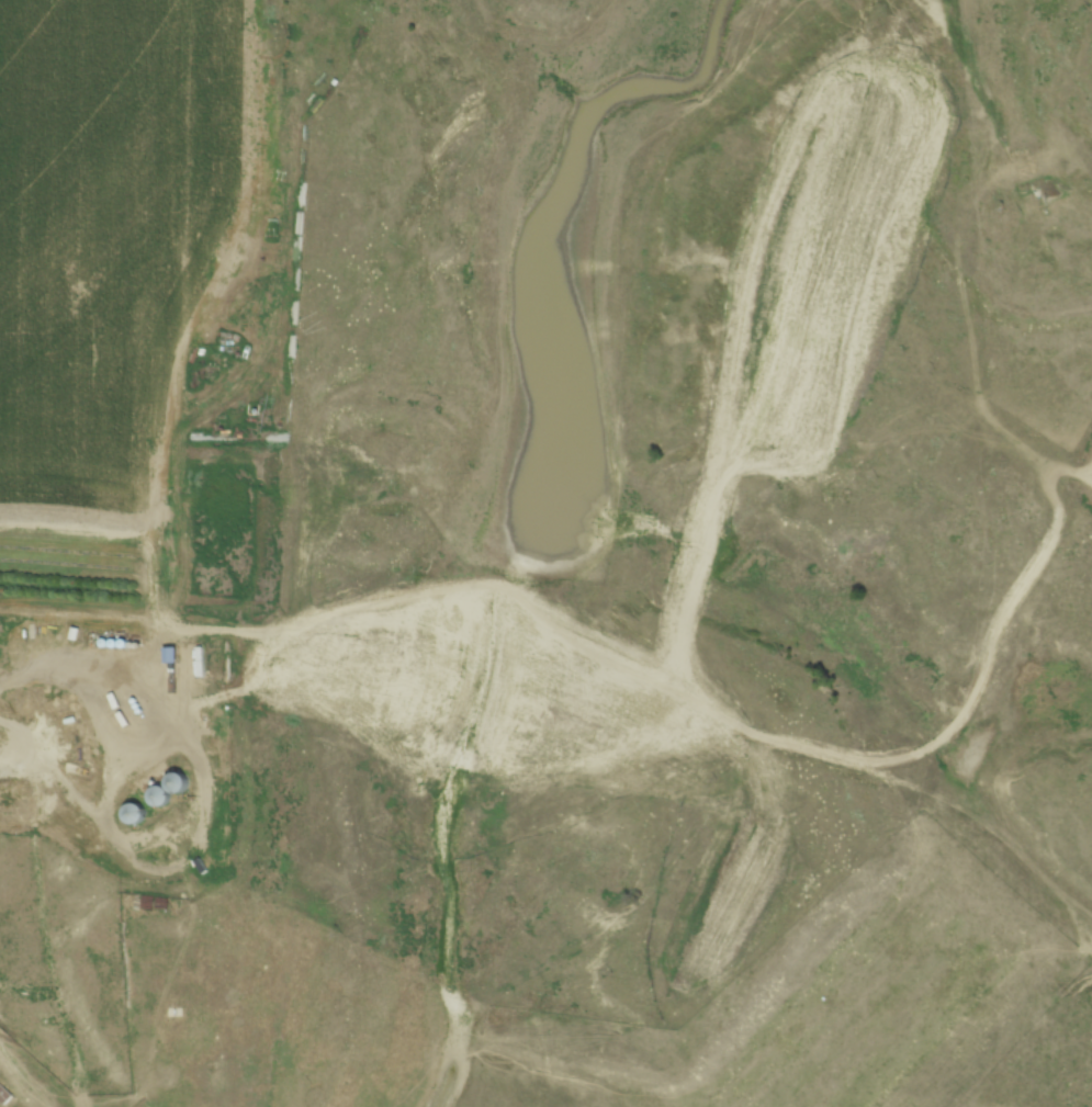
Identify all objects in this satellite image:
building: (181, 782)
building: (161, 795)
building: (137, 812)
building: (169, 845)
building: (5, 1094)

